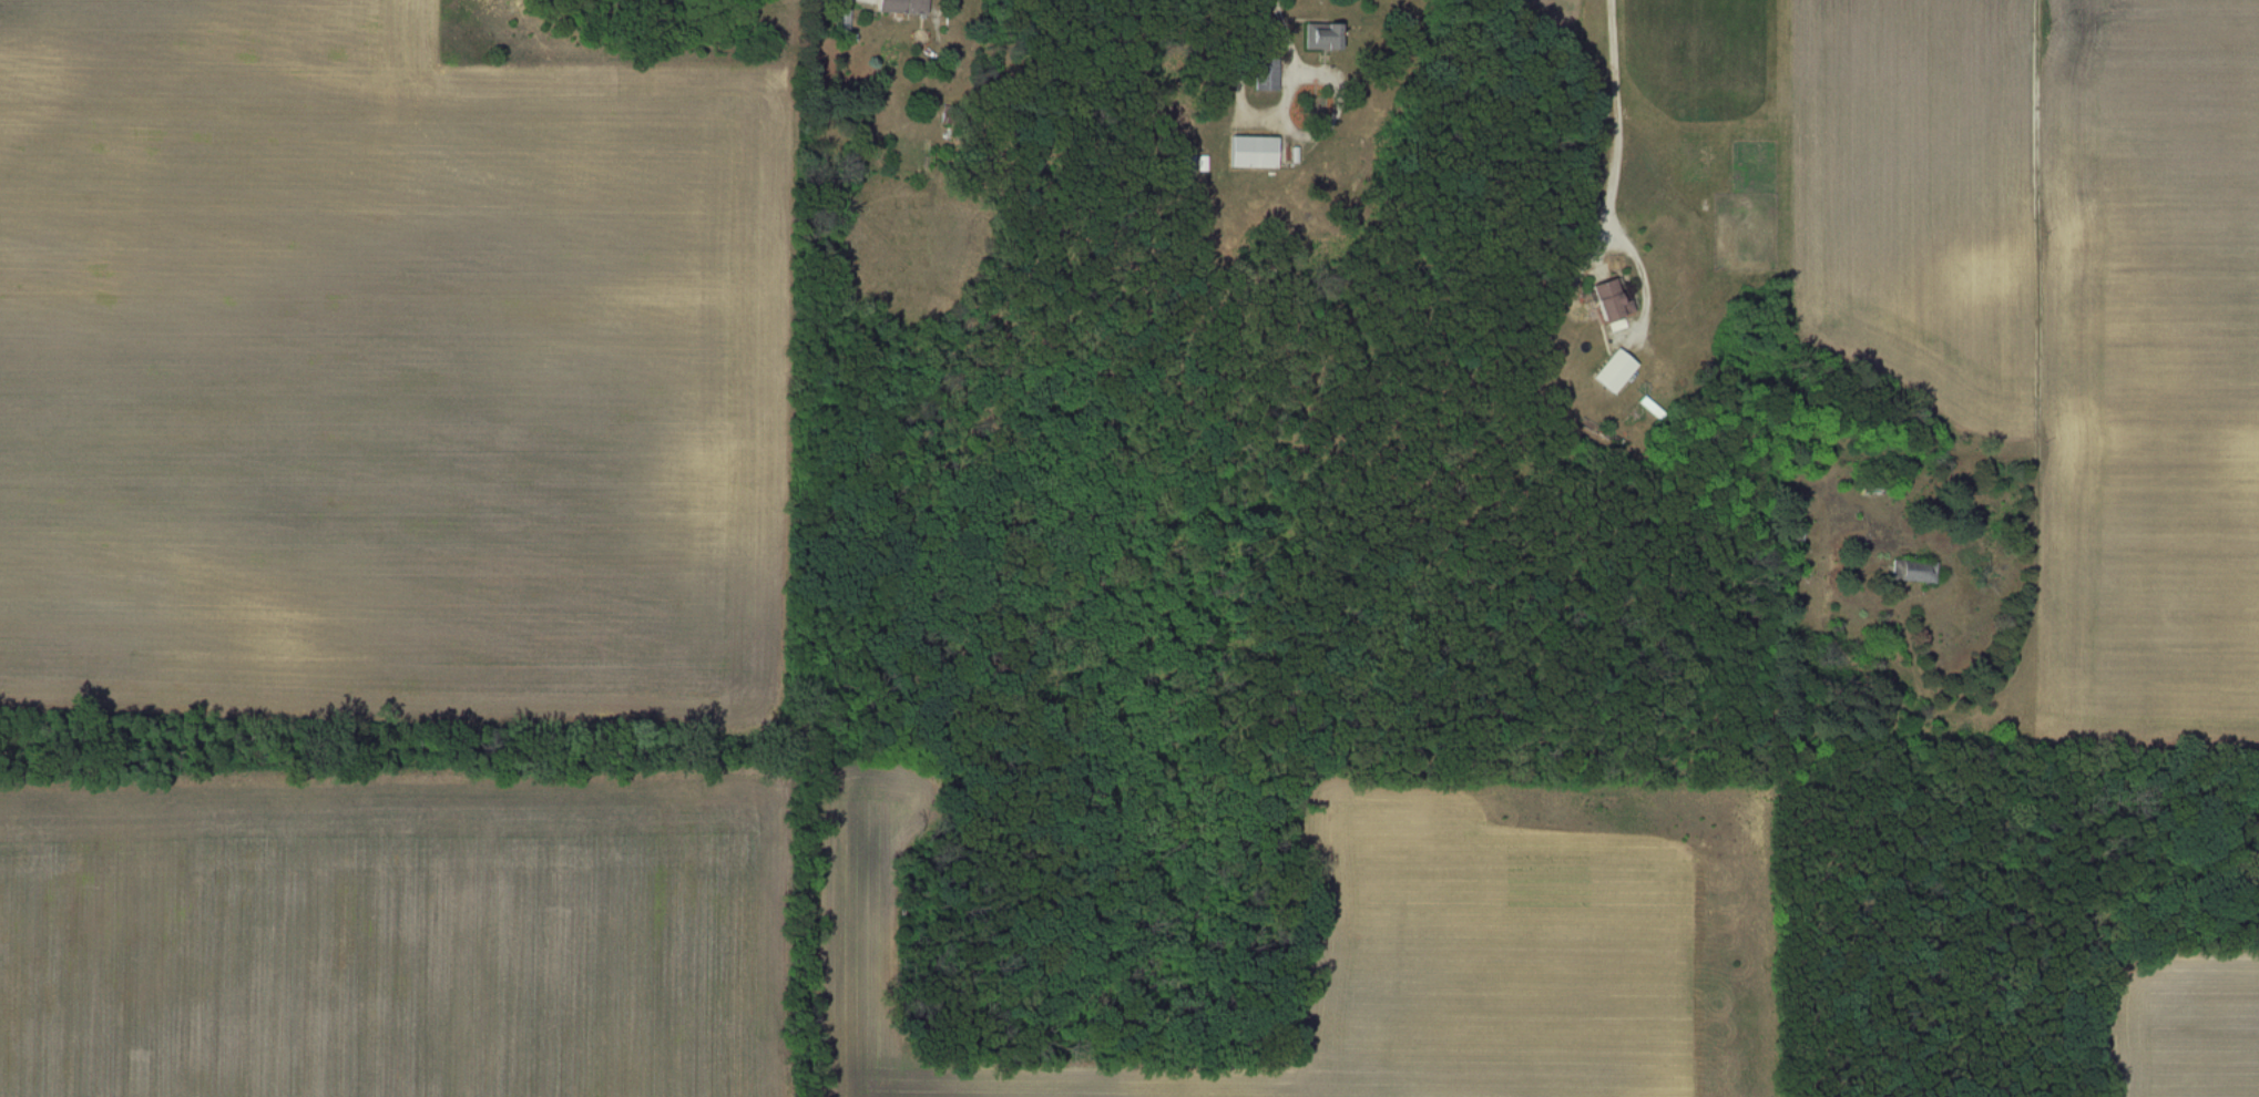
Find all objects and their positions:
building: (902, 6)
building: (1323, 35)
building: (1267, 74)
building: (1253, 152)
road: (2030, 352)

